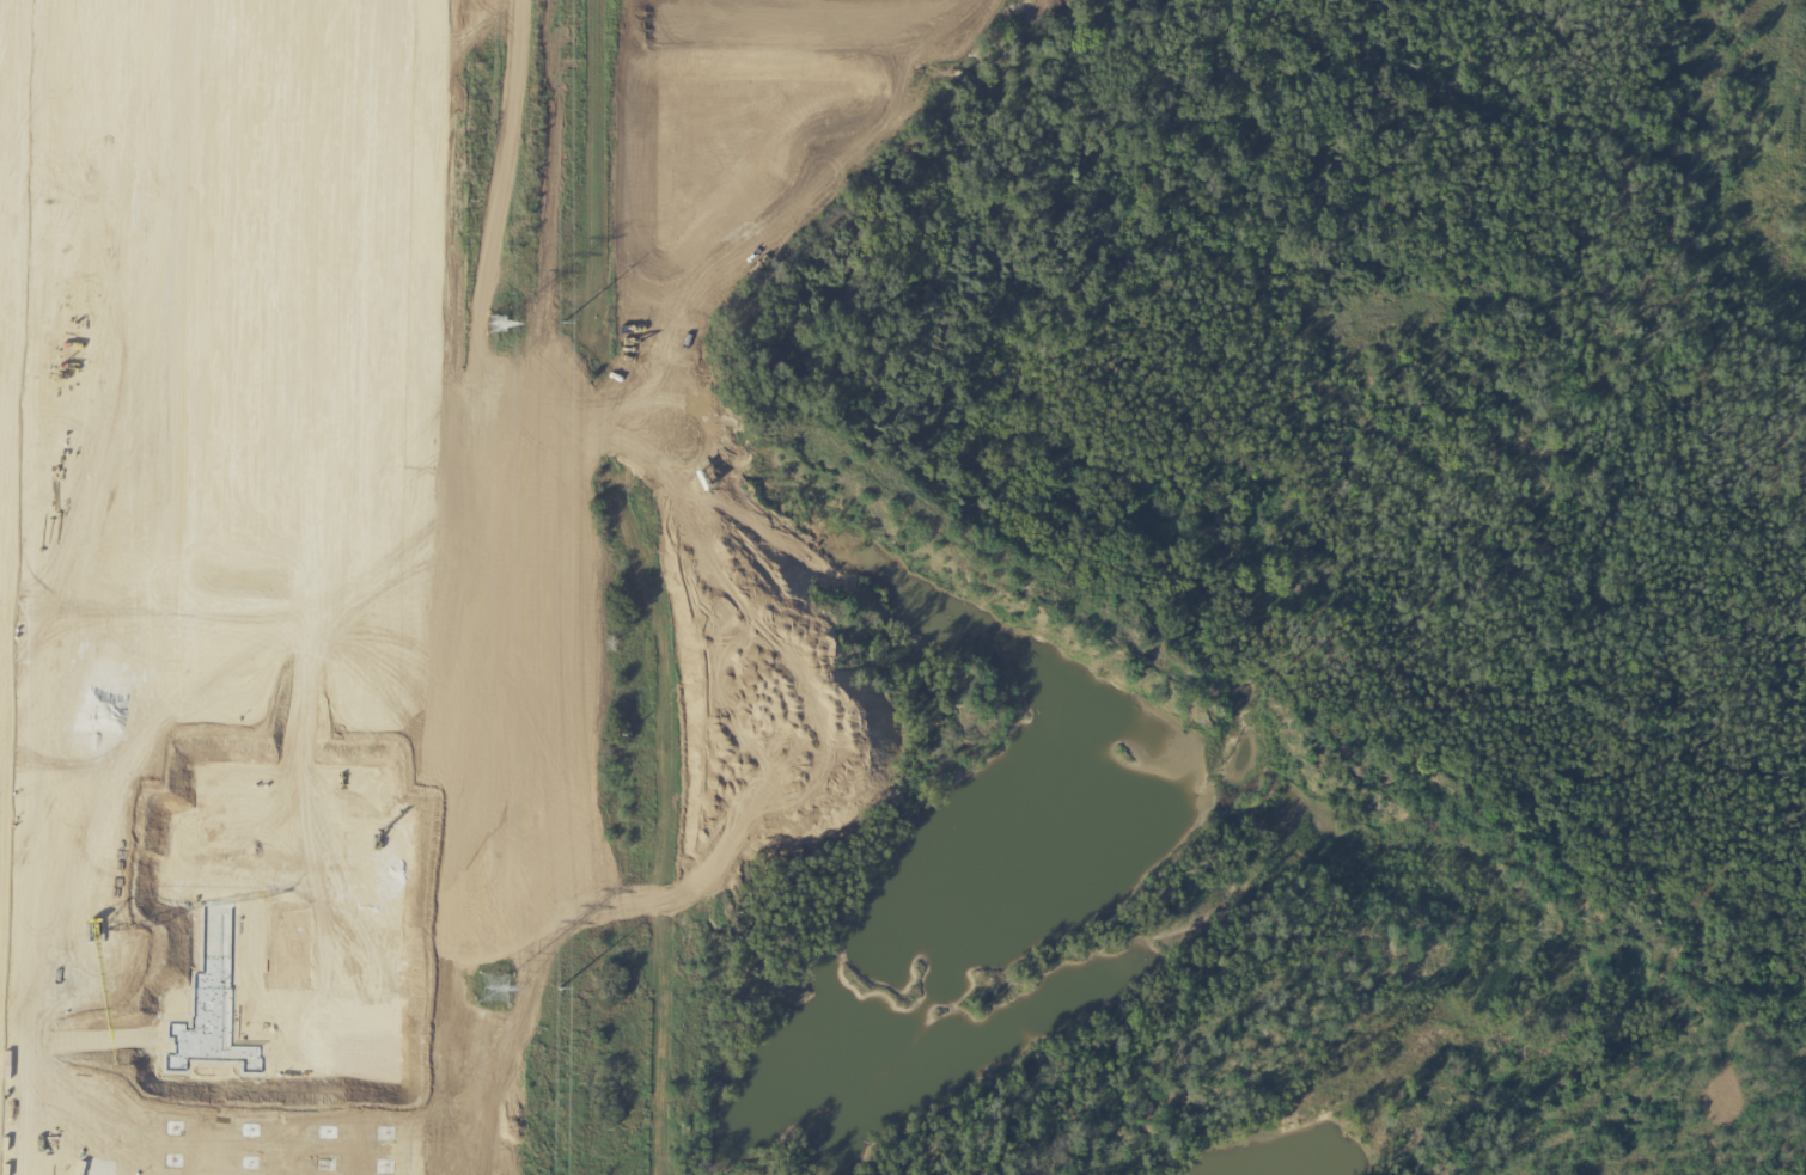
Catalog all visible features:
power tower: (561, 325)
power tower: (499, 326)
road: (599, 564)
road: (630, 571)
building: (201, 581)
road: (507, 583)
road: (459, 601)
power tower: (493, 983)
power tower: (556, 993)
road: (521, 1149)

